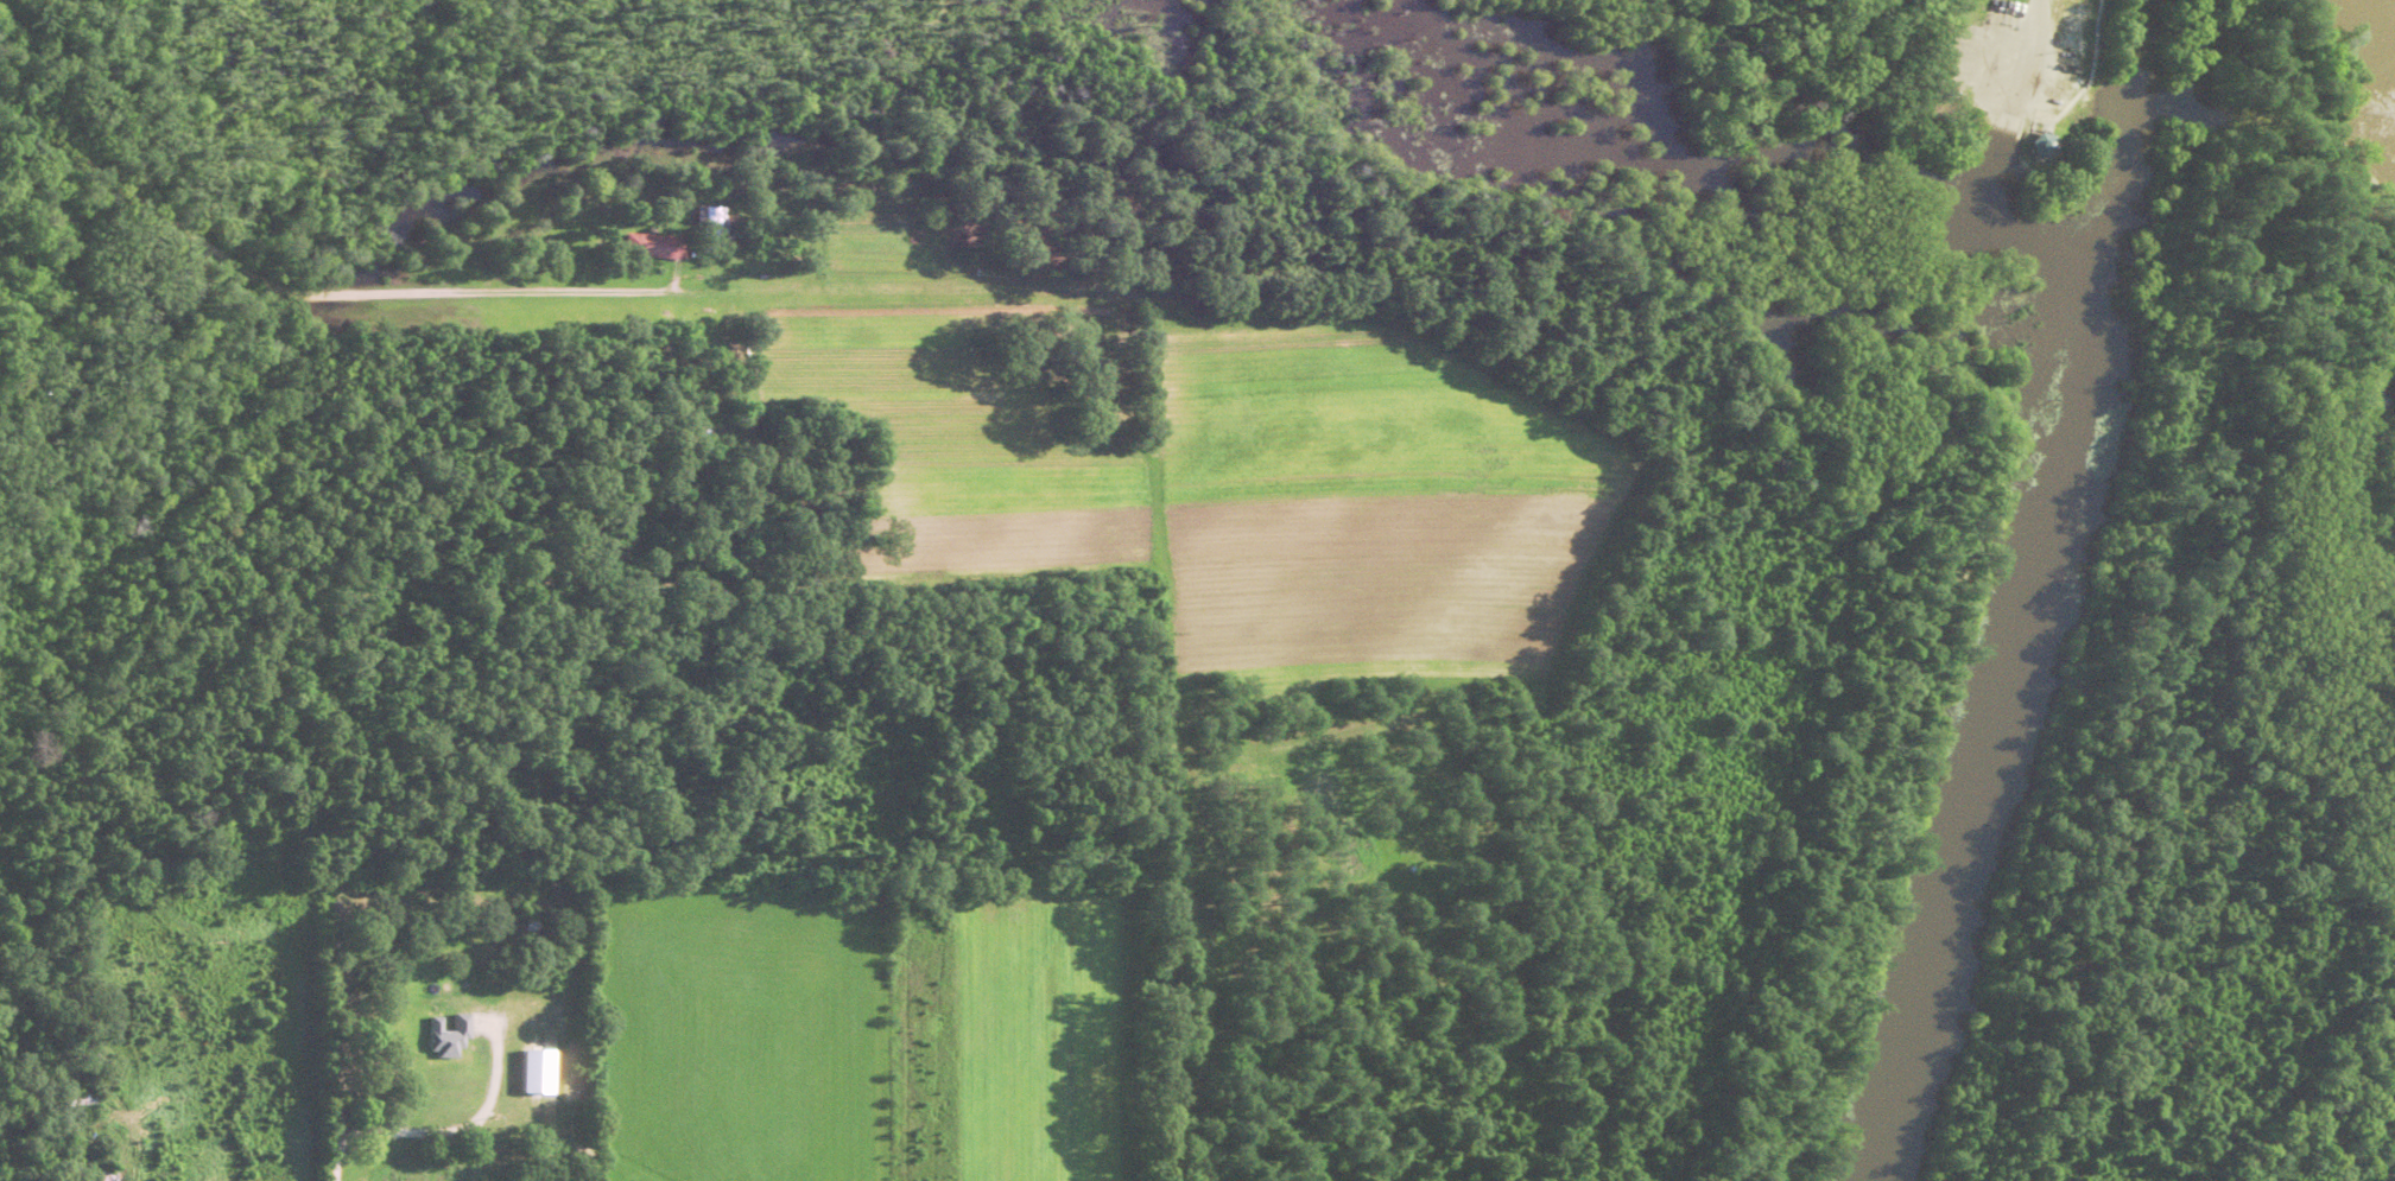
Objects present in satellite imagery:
river: (2390, 5)
road: (2039, 21)
dam: (2364, 76)
dam: (2330, 100)

